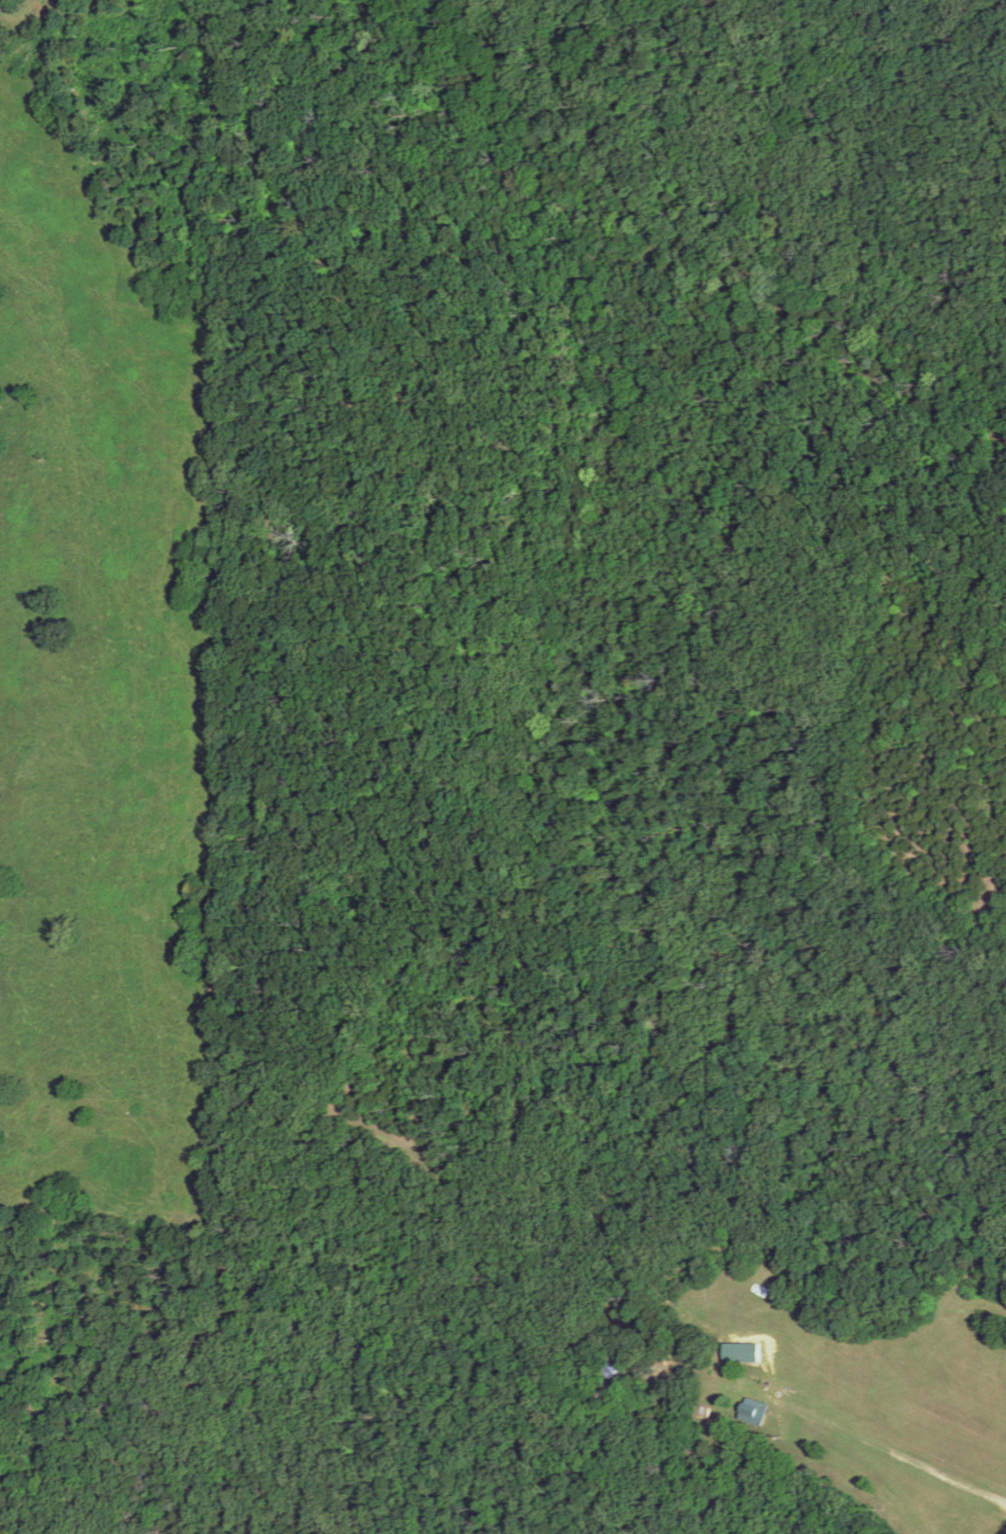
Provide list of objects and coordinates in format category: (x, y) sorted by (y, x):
building: (755, 1412)

